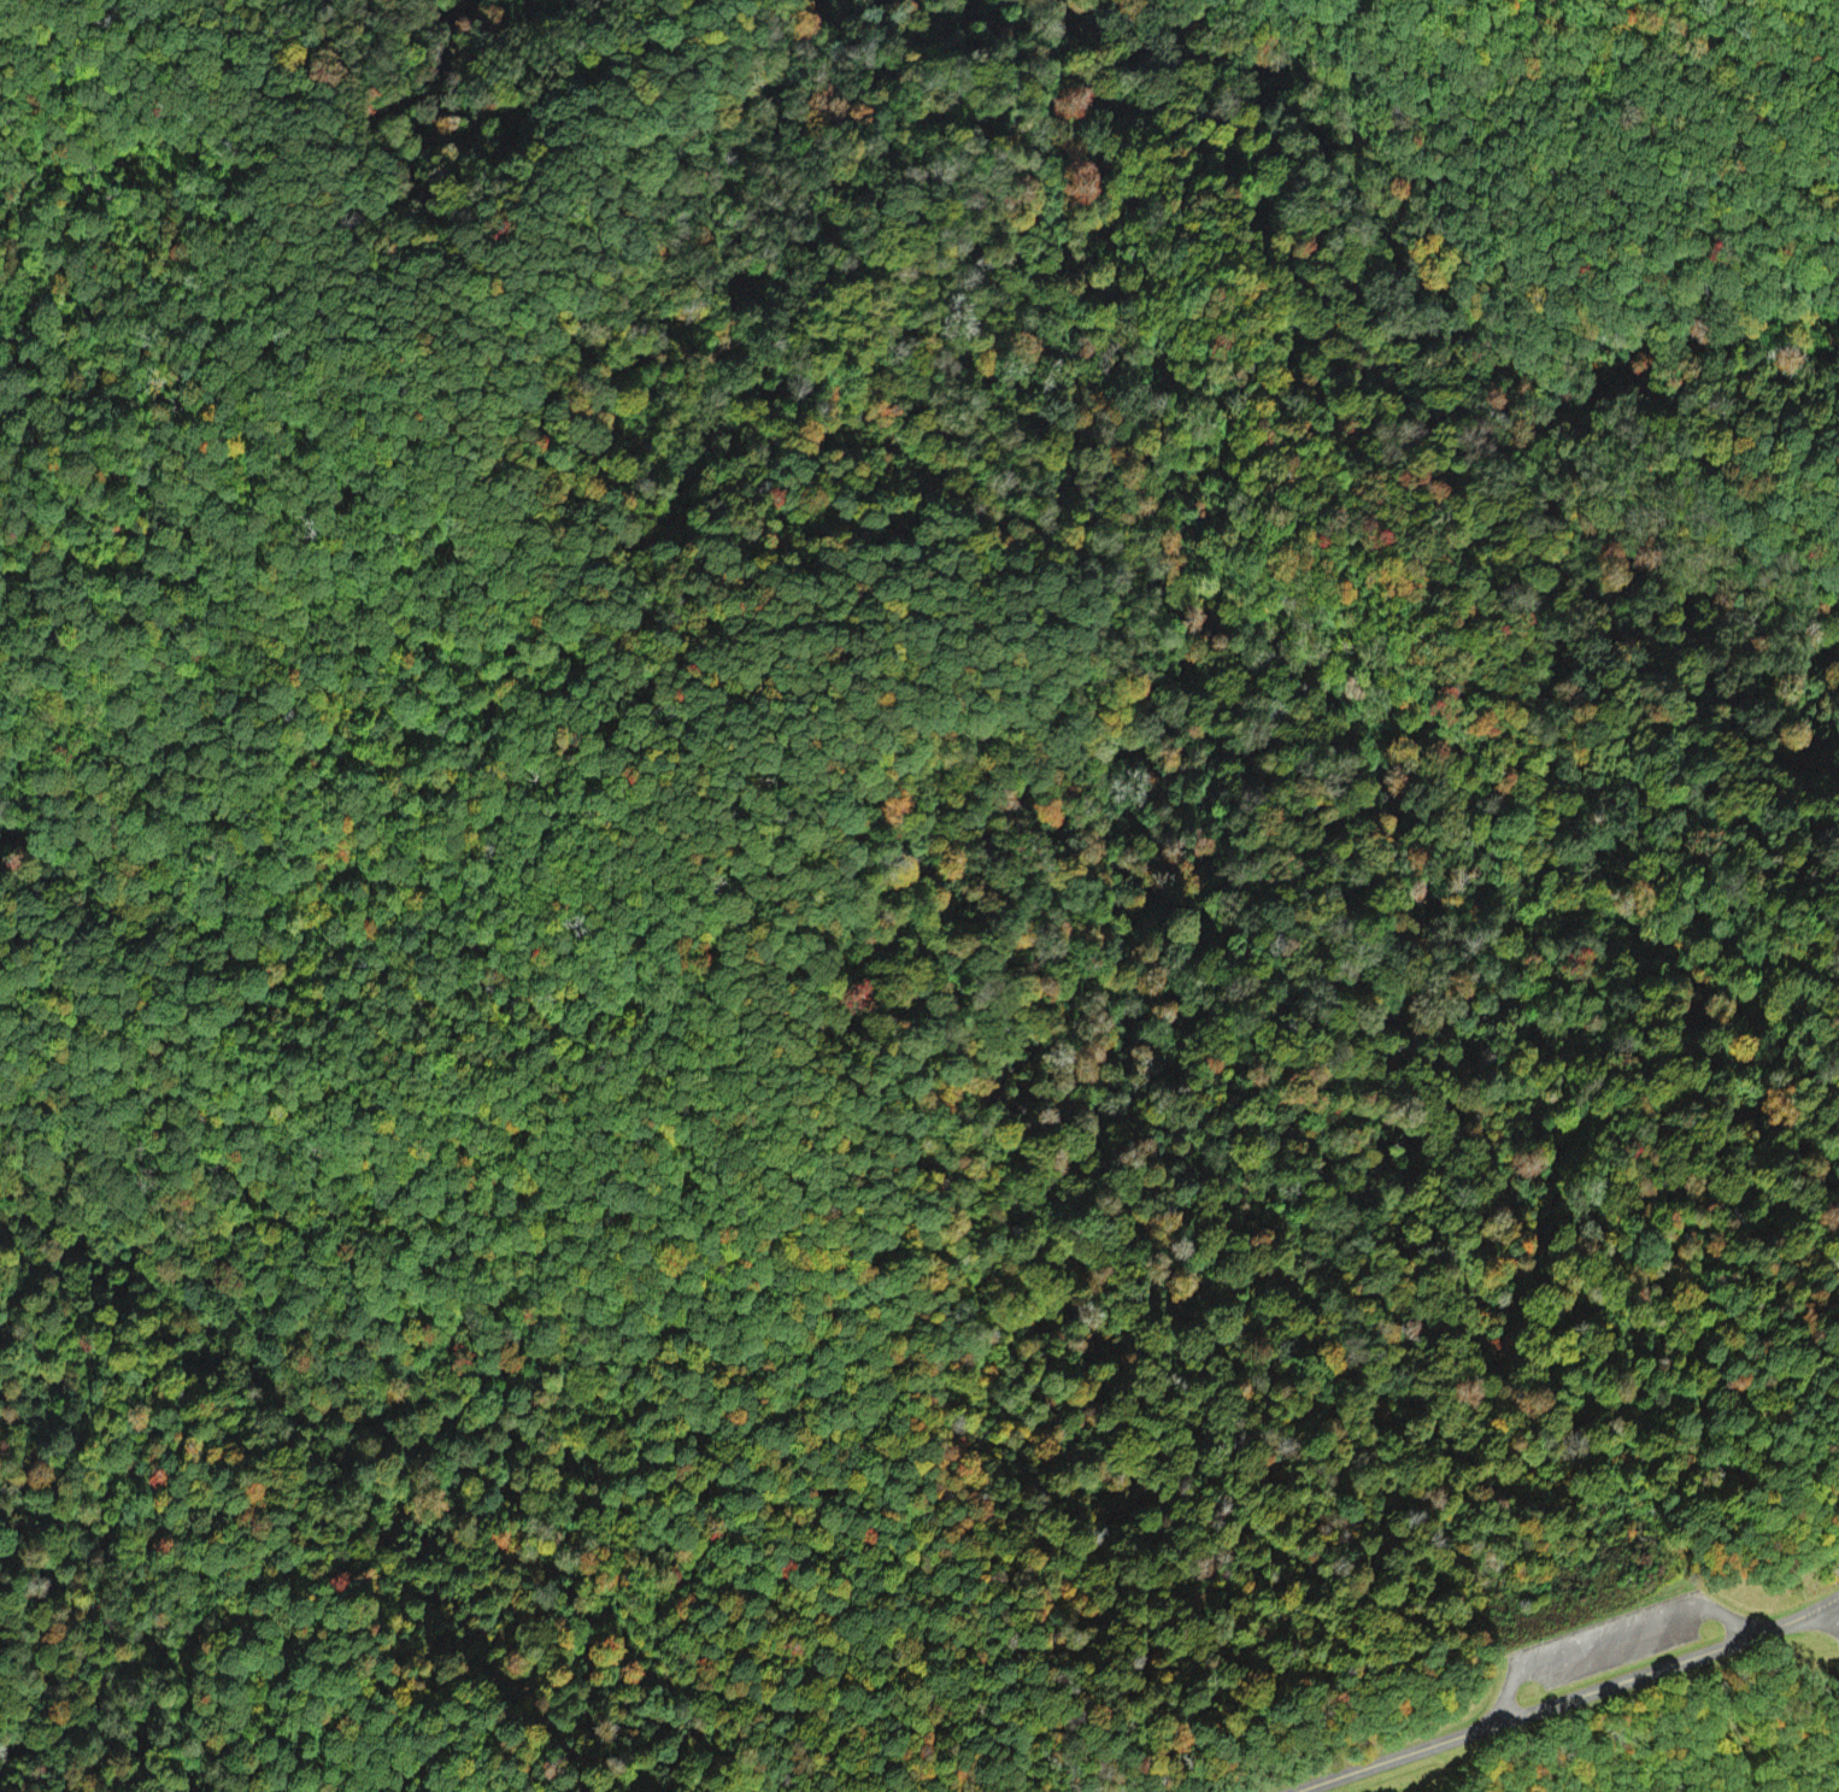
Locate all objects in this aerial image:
road: (1681, 1596)
road: (1831, 1611)
road: (1614, 1632)
road: (1829, 1633)
parking lot: (1835, 1633)
parking lot: (1615, 1640)
road: (1569, 1699)

